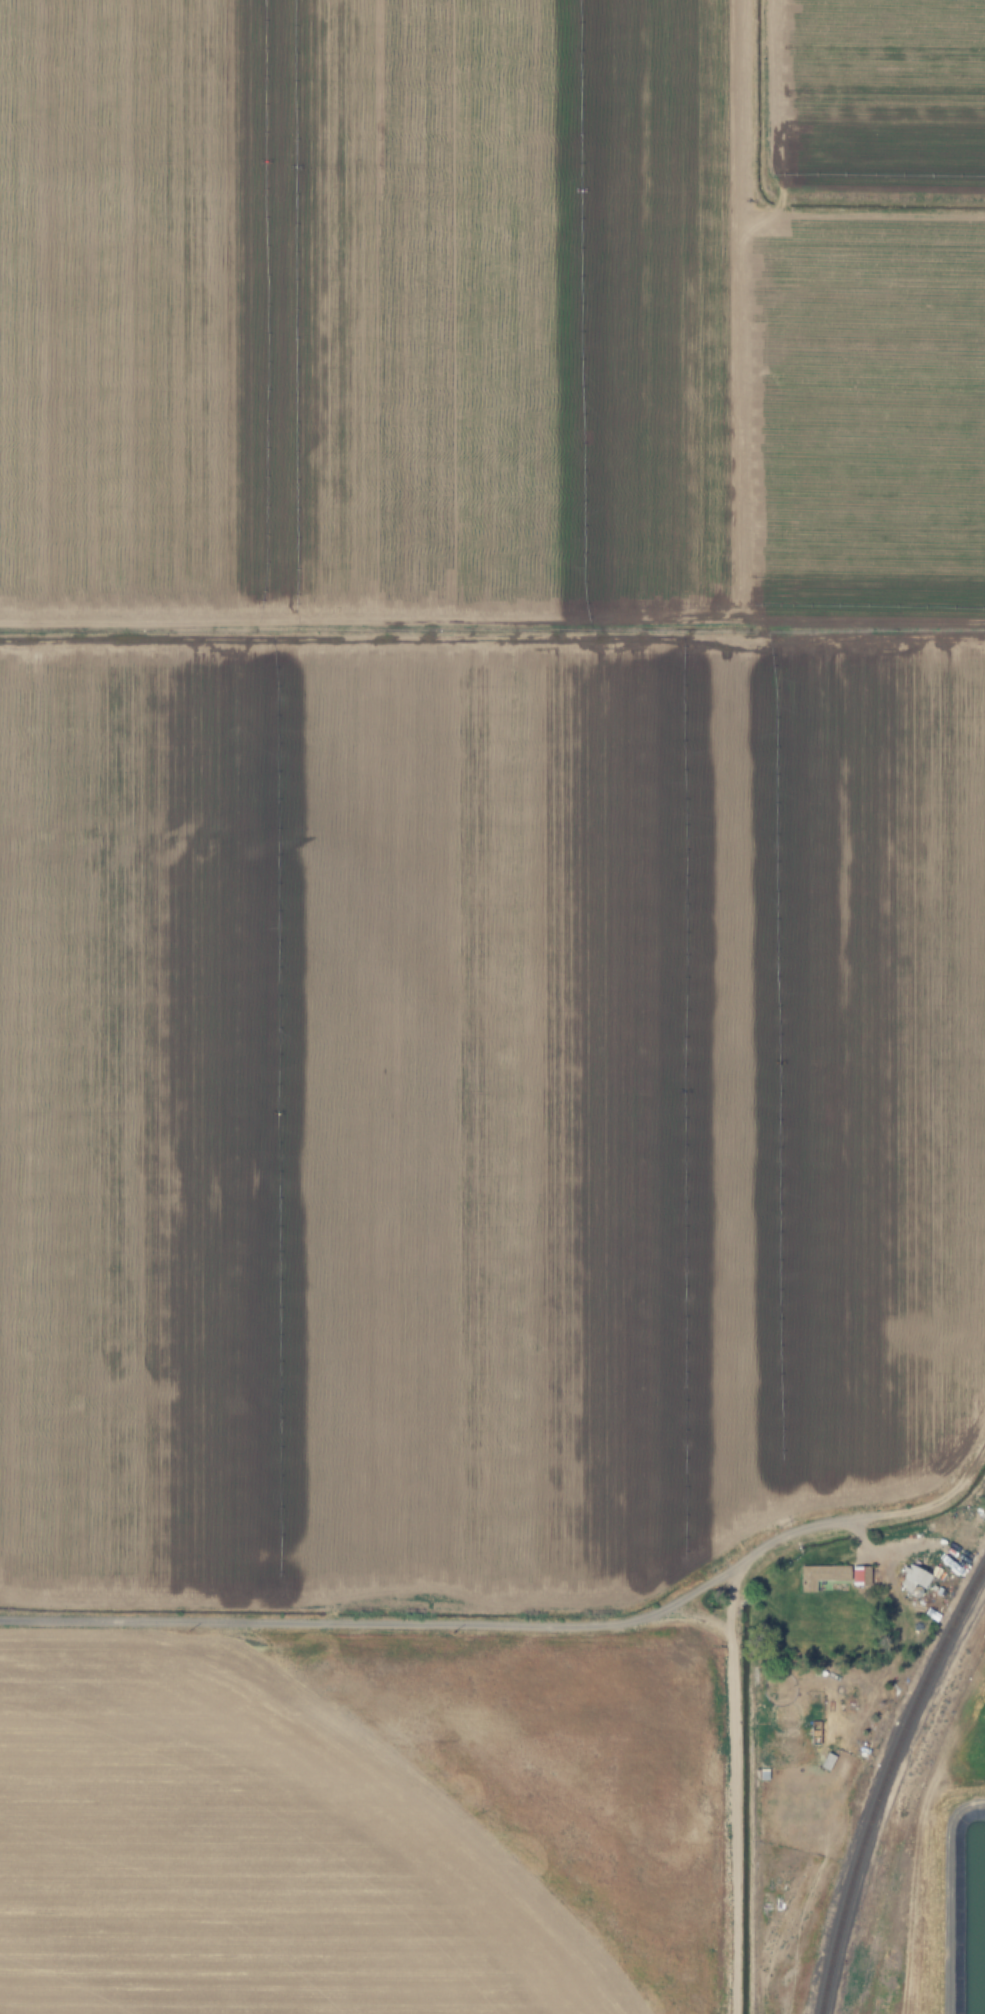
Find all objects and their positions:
crop: (486, 792)
road: (737, 1558)
building: (832, 1575)
building: (912, 1579)
road: (316, 1619)
building: (815, 1732)
building: (707, 1747)
crop: (964, 1749)
railway: (882, 1779)
crop: (192, 1889)

